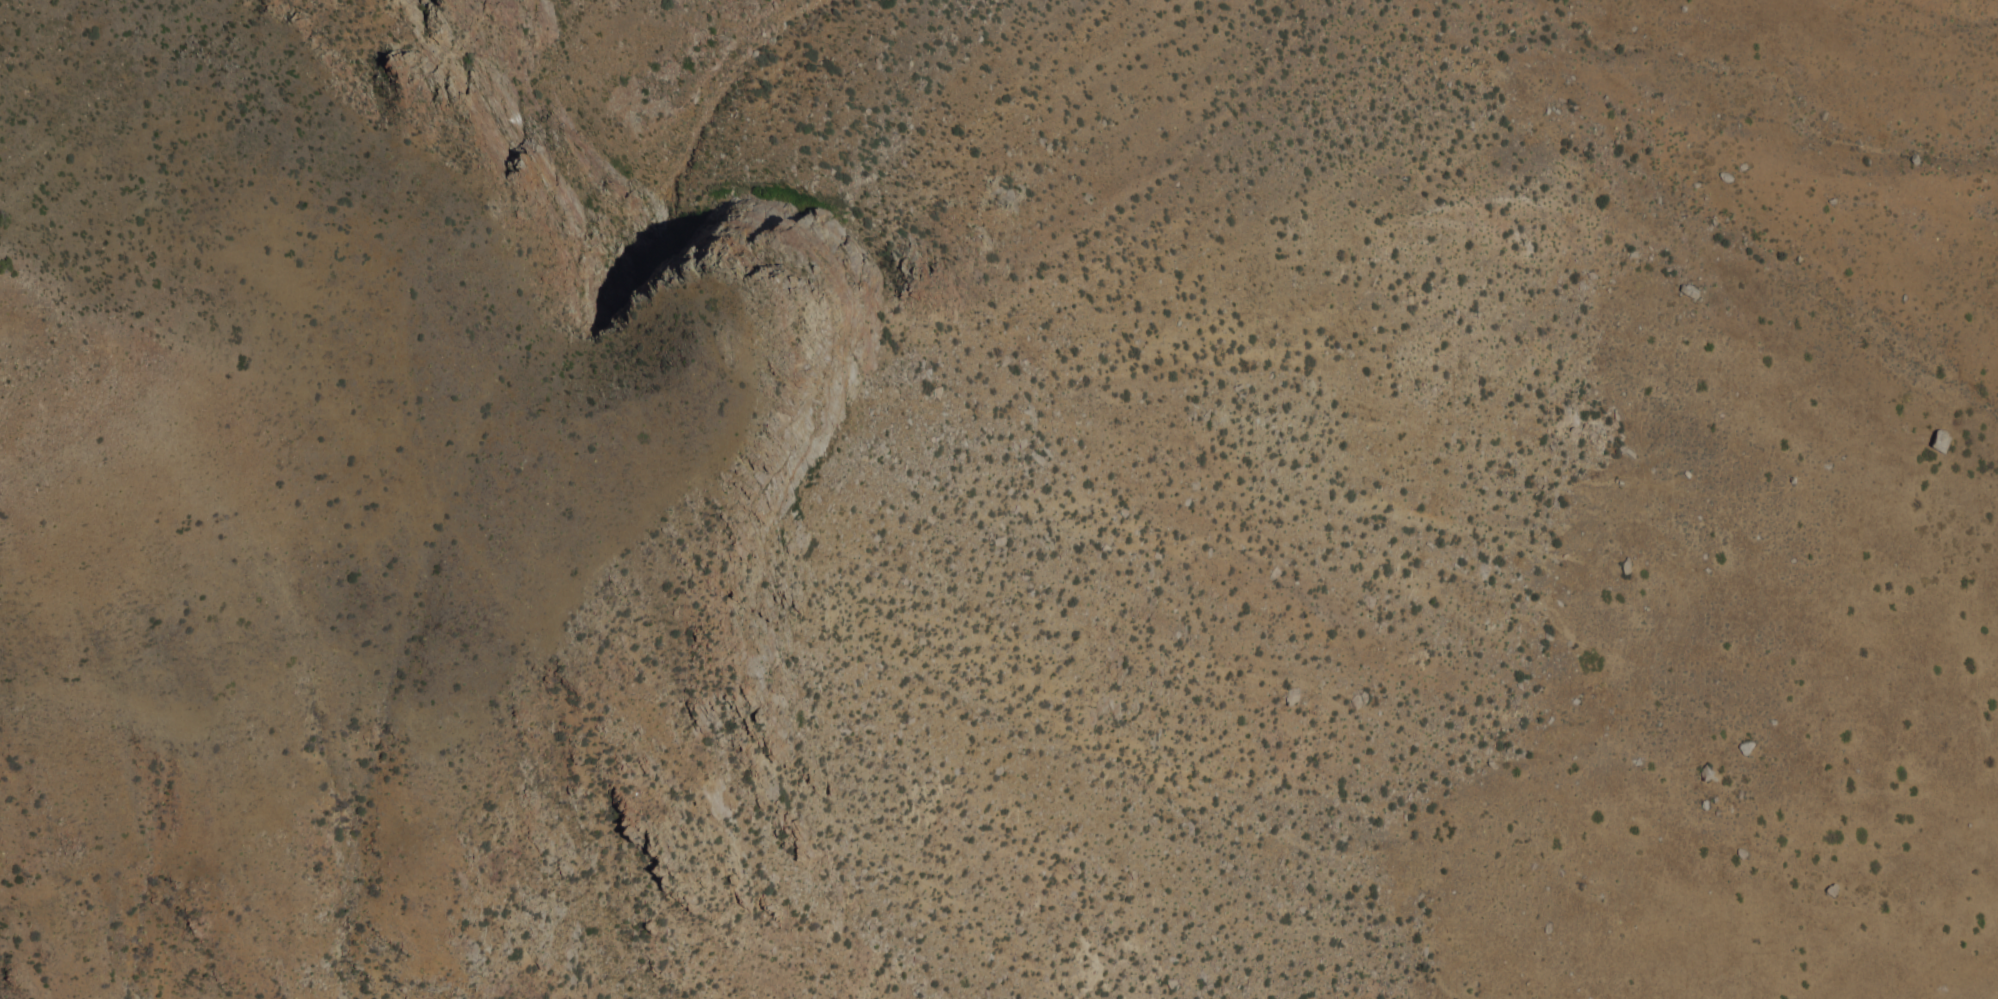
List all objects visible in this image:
building: (1936, 444)

